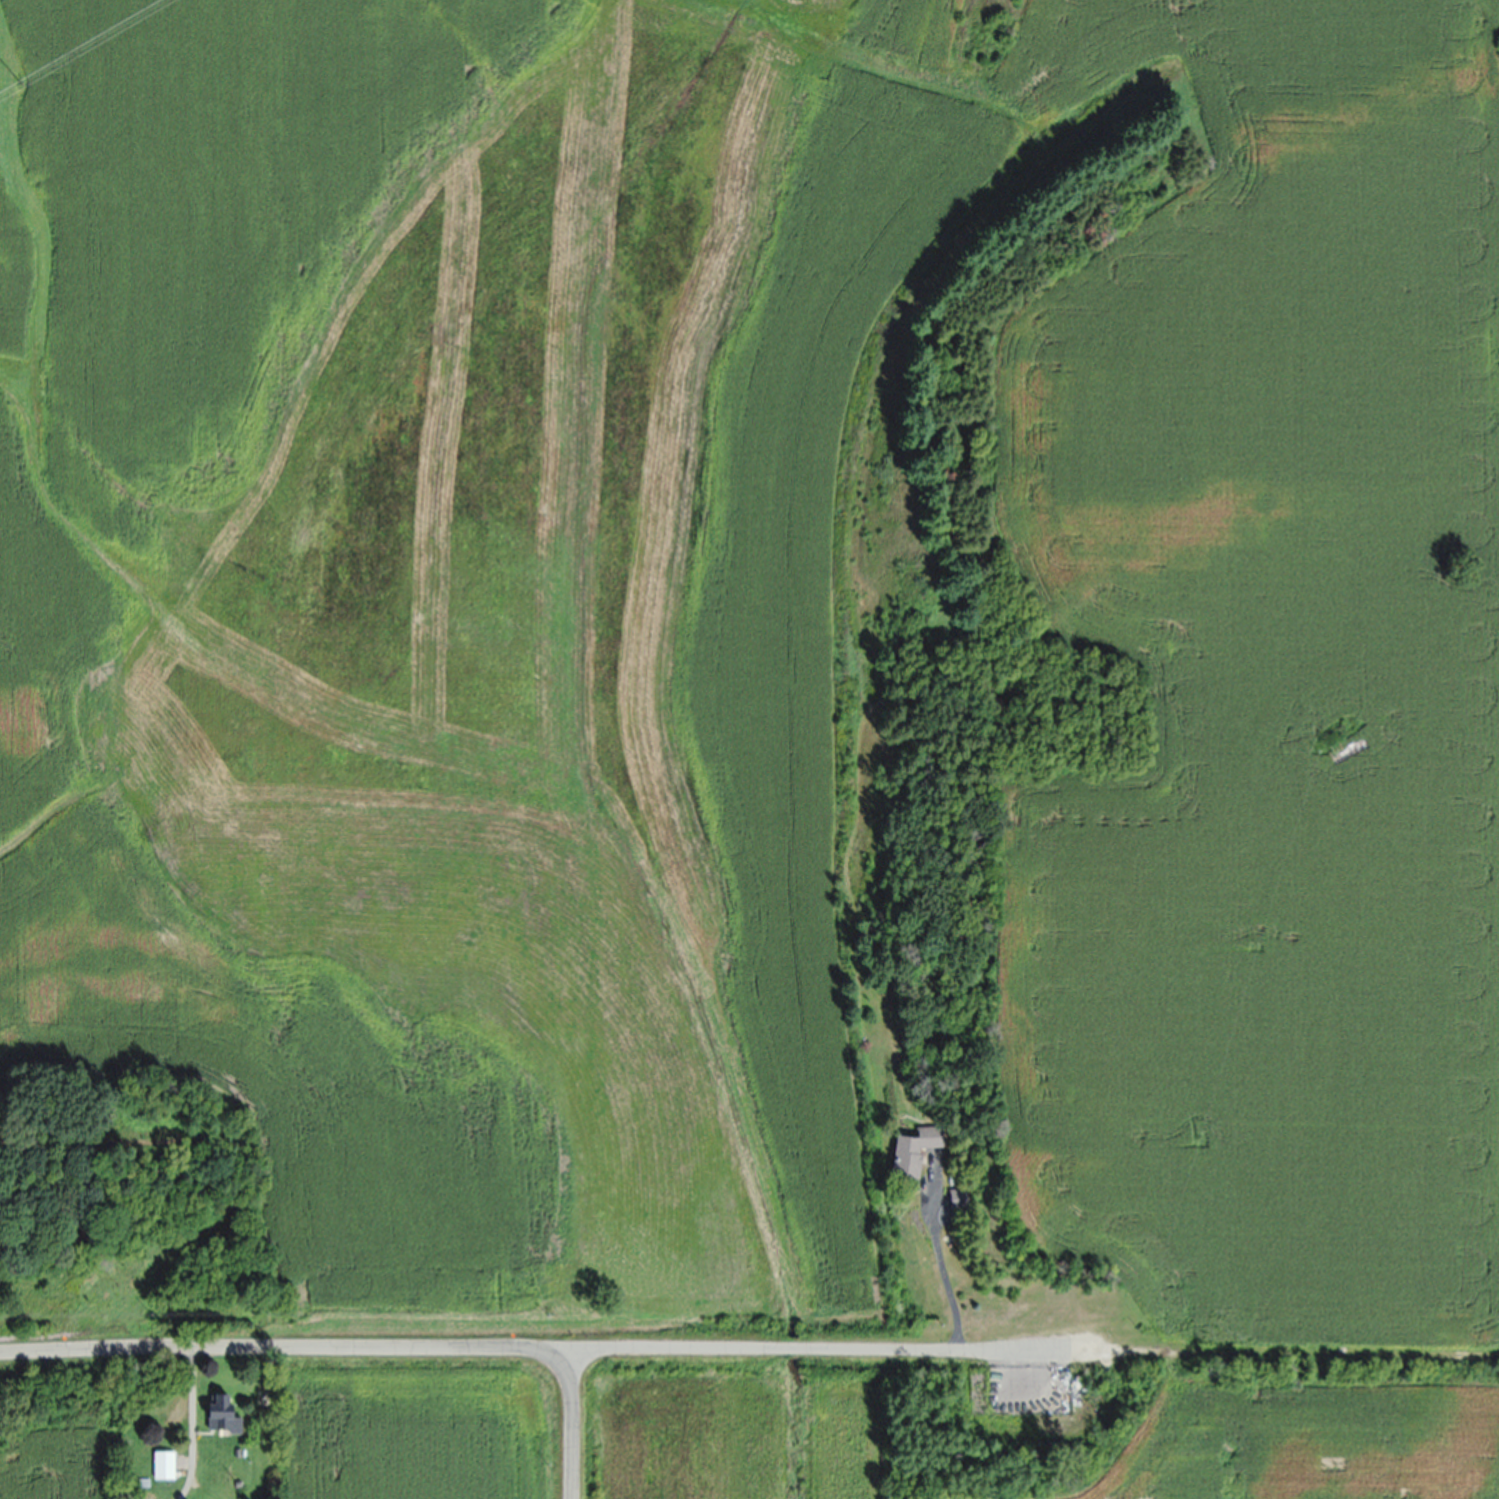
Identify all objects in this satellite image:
building: (914, 1156)
road: (938, 1259)
road: (285, 1348)
road: (1034, 1353)
building: (218, 1418)
road: (571, 1424)
road: (190, 1425)
building: (162, 1470)

